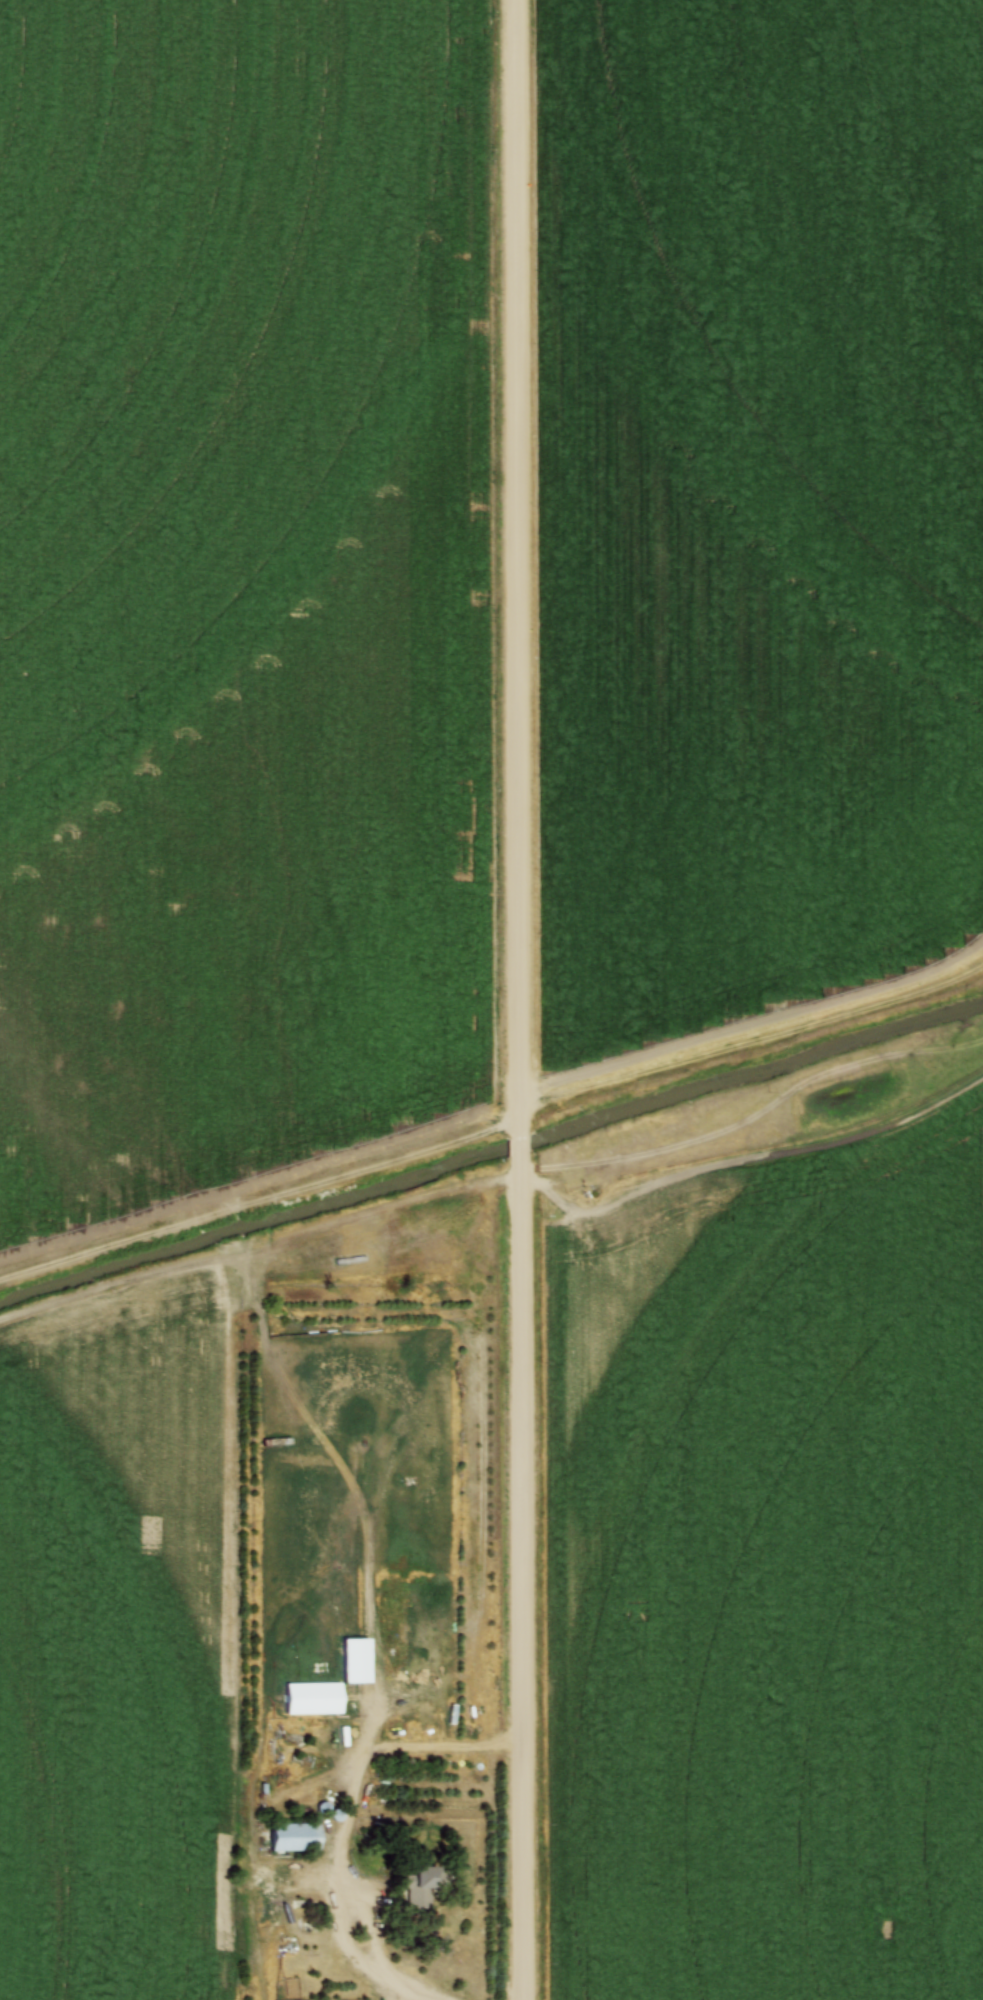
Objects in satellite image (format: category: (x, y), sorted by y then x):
crop: (756, 507)
road: (516, 566)
crop: (240, 587)
road: (752, 1042)
road: (519, 1144)
building: (276, 1442)
road: (523, 1577)
crop: (771, 1583)
crop: (116, 1643)
building: (292, 1837)
building: (414, 1882)
road: (374, 1943)
road: (348, 1947)

